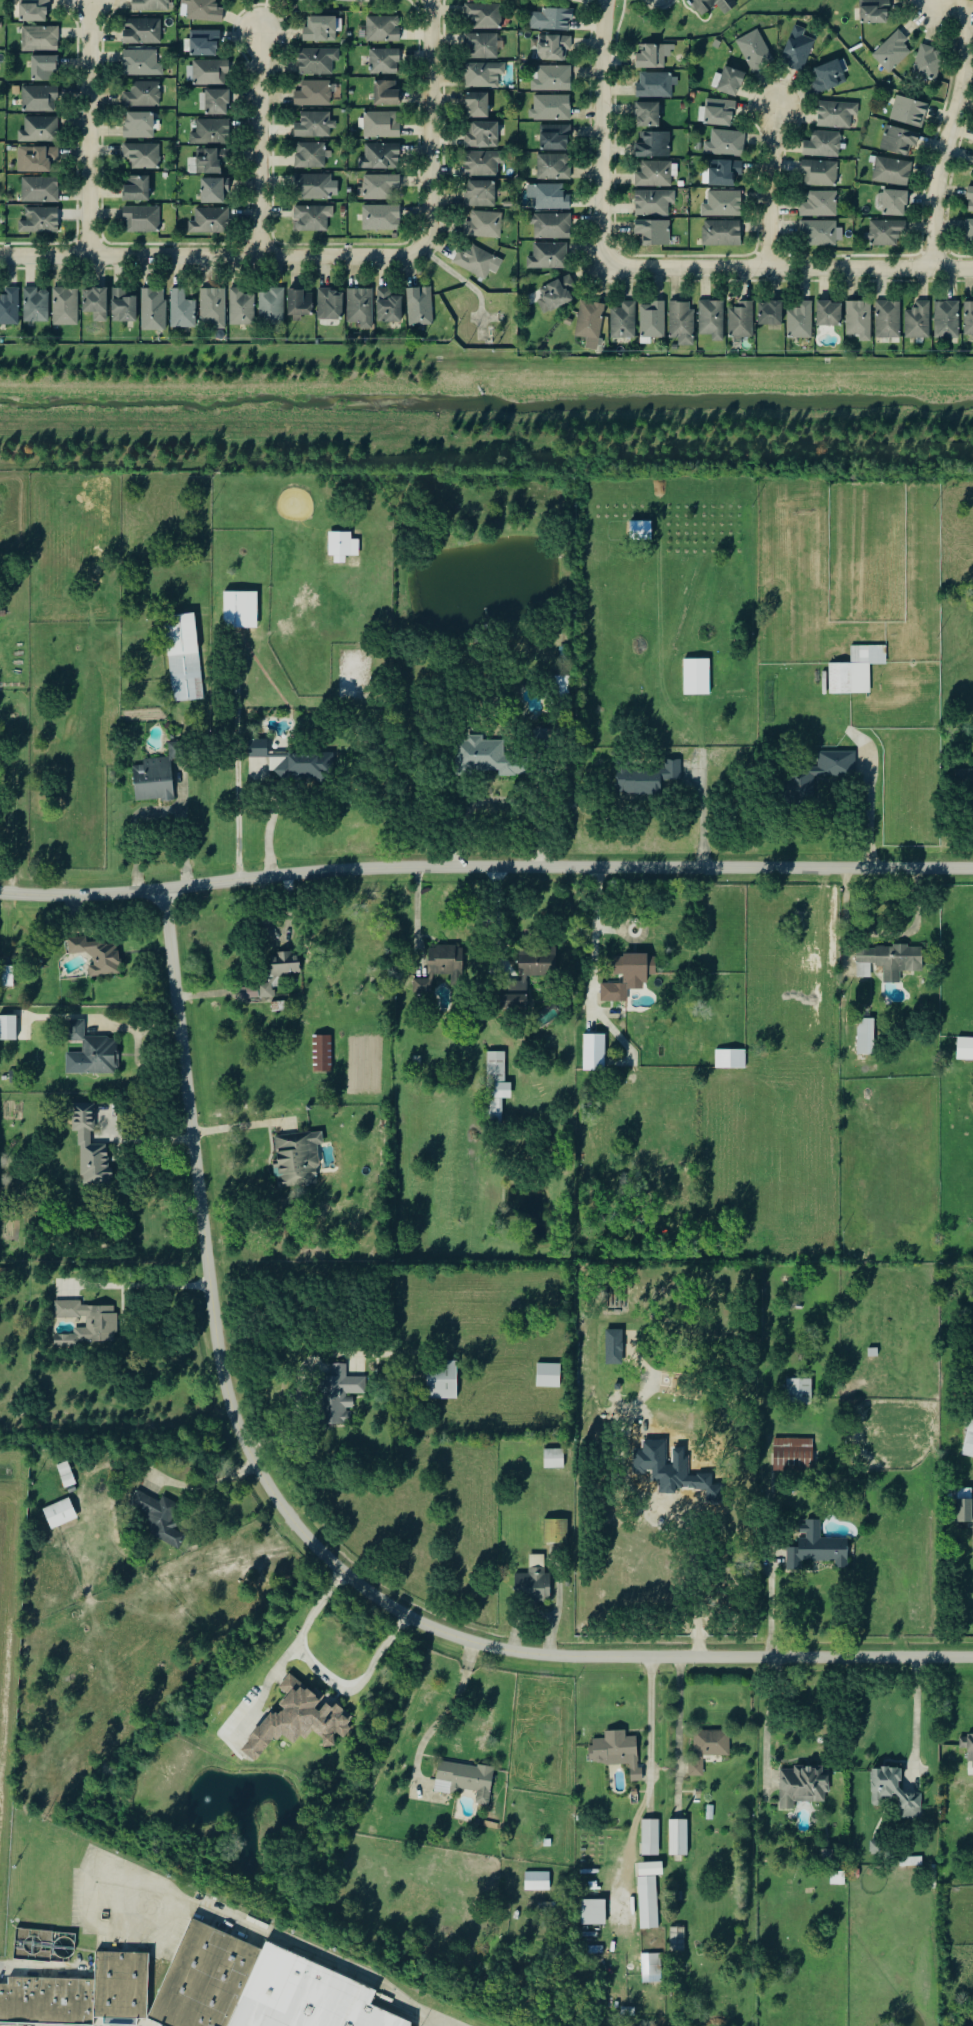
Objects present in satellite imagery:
road: (945, 4)
building: (150, 5)
building: (712, 5)
building: (33, 10)
building: (203, 10)
building: (874, 11)
building: (484, 15)
park: (698, 16)
building: (551, 20)
building: (320, 29)
building: (382, 29)
building: (141, 32)
building: (40, 39)
building: (204, 43)
building: (483, 46)
building: (554, 48)
building: (797, 49)
building: (755, 51)
building: (892, 51)
building: (653, 55)
building: (317, 61)
building: (384, 61)
building: (928, 62)
building: (141, 63)
building: (43, 68)
building: (206, 73)
building: (483, 75)
building: (829, 75)
building: (552, 79)
building: (728, 81)
building: (656, 85)
building: (386, 93)
building: (315, 94)
building: (142, 95)
building: (39, 99)
building: (217, 102)
building: (477, 105)
building: (550, 108)
building: (909, 111)
building: (719, 112)
building: (647, 114)
building: (836, 114)
road: (429, 124)
building: (138, 125)
building: (314, 125)
building: (381, 125)
road: (88, 129)
building: (39, 130)
building: (211, 132)
road: (600, 133)
road: (947, 133)
building: (482, 135)
building: (555, 137)
building: (899, 140)
building: (725, 143)
building: (654, 144)
building: (823, 144)
road: (258, 146)
building: (142, 155)
building: (311, 156)
building: (380, 157)
building: (36, 158)
building: (208, 160)
building: (483, 163)
building: (553, 167)
building: (892, 171)
building: (725, 172)
building: (819, 173)
building: (654, 174)
building: (314, 187)
building: (379, 187)
road: (767, 187)
building: (137, 189)
building: (40, 190)
building: (213, 190)
building: (480, 194)
building: (548, 197)
building: (970, 201)
building: (653, 203)
building: (895, 203)
building: (722, 204)
building: (819, 205)
building: (312, 218)
building: (381, 218)
building: (142, 219)
building: (39, 220)
building: (209, 221)
building: (484, 225)
building: (551, 226)
building: (654, 232)
building: (968, 232)
building: (721, 233)
building: (886, 233)
building: (820, 234)
road: (210, 256)
building: (548, 256)
building: (477, 262)
road: (786, 268)
building: (557, 295)
building: (534, 297)
building: (299, 303)
building: (95, 304)
building: (35, 305)
building: (330, 305)
building: (123, 306)
building: (419, 306)
building: (9, 307)
building: (65, 307)
building: (241, 307)
building: (271, 307)
building: (360, 307)
building: (388, 307)
building: (212, 308)
building: (153, 309)
building: (182, 310)
building: (770, 313)
building: (828, 314)
building: (968, 319)
building: (741, 320)
building: (887, 320)
building: (946, 320)
building: (623, 321)
building: (652, 321)
building: (708, 321)
building: (800, 321)
building: (856, 321)
building: (918, 321)
building: (681, 323)
building: (587, 325)
building: (342, 546)
building: (238, 610)
building: (181, 659)
building: (853, 671)
building: (694, 678)
building: (556, 684)
building: (538, 739)
road: (238, 757)
building: (483, 758)
building: (287, 762)
building: (812, 775)
building: (154, 778)
building: (644, 778)
building: (966, 780)
road: (874, 791)
road: (14, 803)
road: (157, 810)
road: (273, 819)
road: (700, 822)
road: (485, 868)
road: (416, 914)
road: (596, 919)
road: (889, 938)
building: (96, 957)
building: (888, 960)
building: (443, 962)
building: (631, 965)
building: (505, 967)
building: (5, 977)
building: (271, 977)
building: (523, 977)
building: (420, 987)
building: (613, 993)
road: (204, 998)
building: (8, 1028)
road: (146, 1031)
building: (863, 1038)
building: (963, 1050)
building: (92, 1052)
building: (320, 1055)
building: (593, 1060)
building: (728, 1060)
building: (493, 1068)
building: (493, 1113)
road: (236, 1129)
road: (149, 1144)
building: (88, 1151)
building: (293, 1162)
road: (158, 1284)
building: (618, 1298)
building: (87, 1322)
building: (546, 1377)
building: (439, 1381)
building: (796, 1393)
building: (335, 1397)
road: (638, 1397)
road: (299, 1398)
building: (968, 1440)
building: (663, 1452)
building: (790, 1456)
building: (551, 1460)
building: (962, 1508)
building: (57, 1514)
road: (683, 1514)
building: (156, 1519)
building: (553, 1532)
road: (769, 1547)
road: (314, 1548)
building: (811, 1548)
road: (198, 1576)
building: (530, 1584)
road: (297, 1630)
road: (354, 1683)
building: (298, 1720)
road: (445, 1720)
road: (766, 1721)
road: (915, 1724)
road: (650, 1731)
building: (705, 1749)
building: (968, 1749)
building: (619, 1751)
building: (462, 1781)
building: (799, 1787)
building: (889, 1791)
building: (648, 1839)
building: (676, 1839)
building: (910, 1862)
building: (650, 1869)
building: (534, 1883)
building: (644, 1886)
building: (646, 1910)
building: (593, 1912)
building: (677, 1939)
road: (292, 1946)
building: (652, 1966)
road: (20, 1967)
building: (201, 1980)
building: (118, 1987)
building: (302, 1996)
building: (45, 2003)

